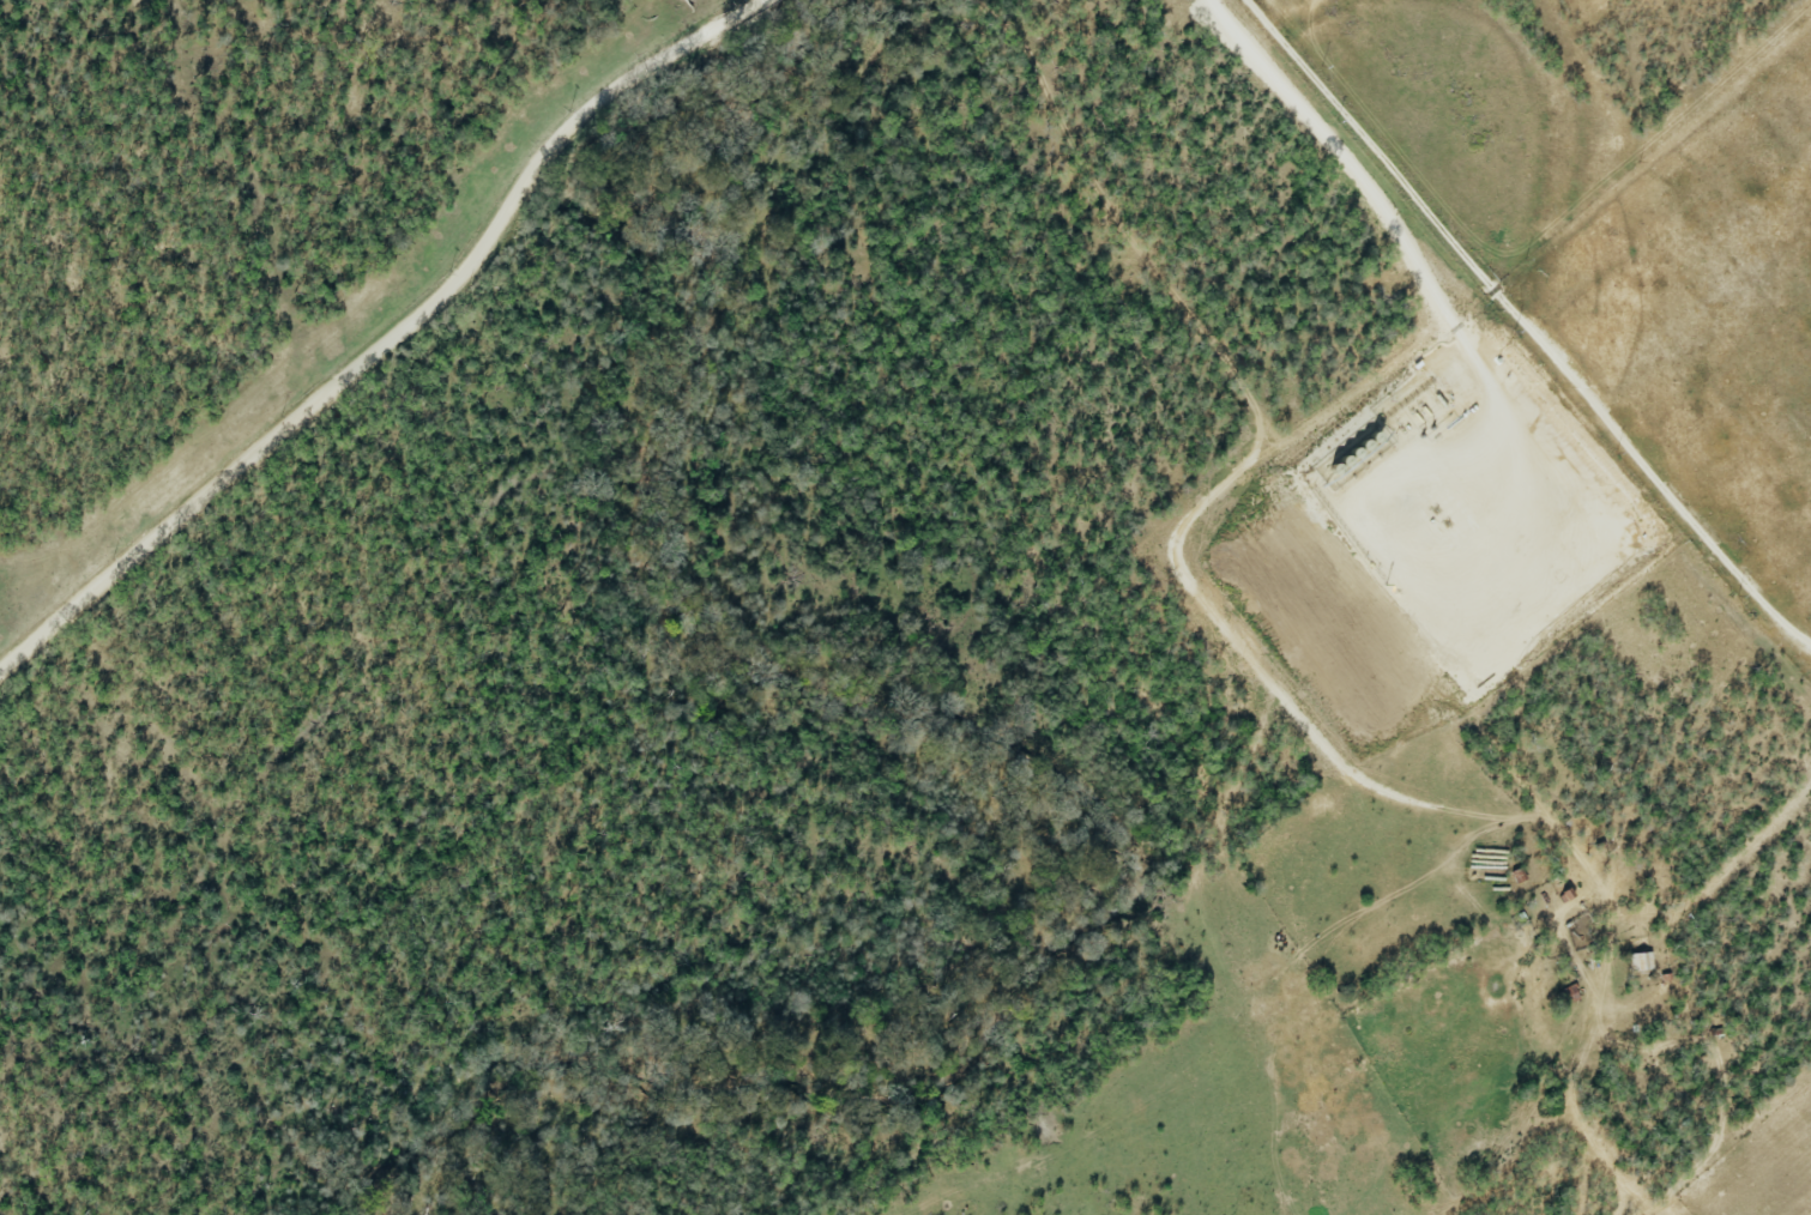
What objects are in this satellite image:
road: (1526, 331)
road: (390, 345)

